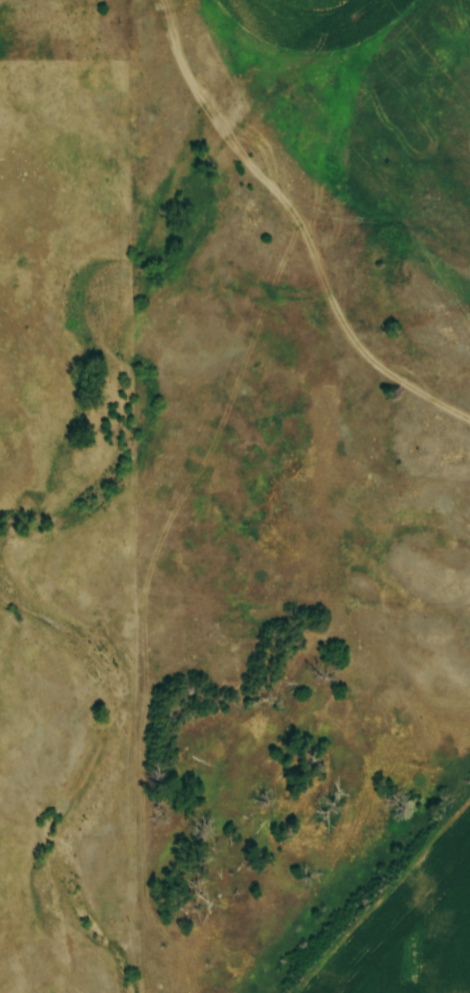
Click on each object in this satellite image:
crop: (285, 76)
crop: (409, 926)

